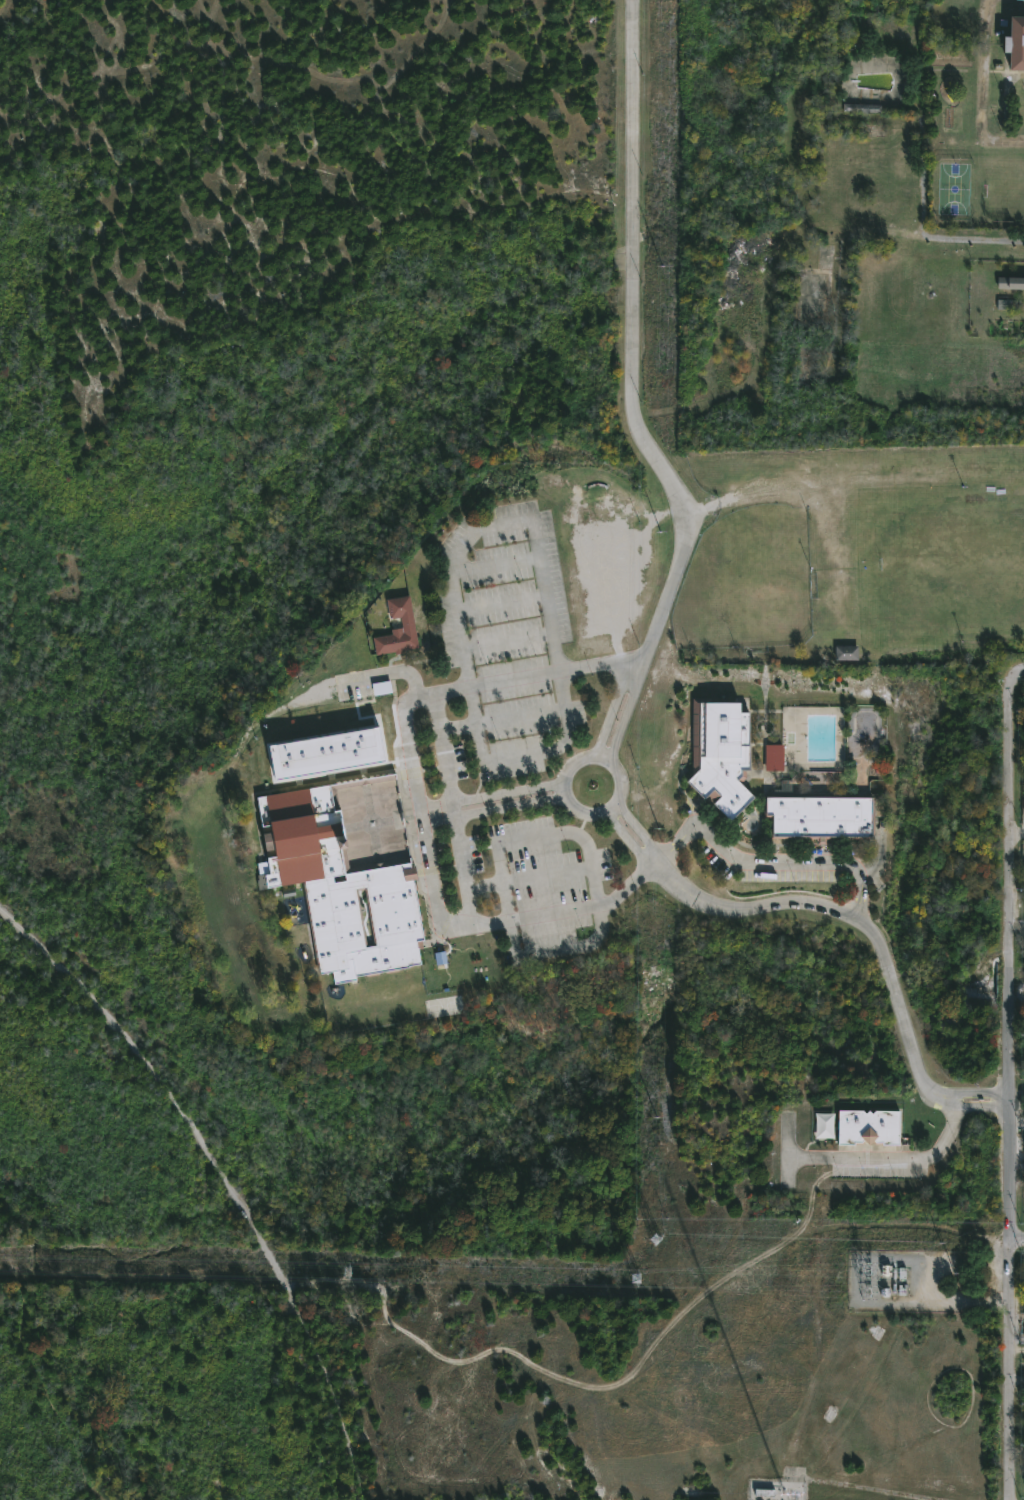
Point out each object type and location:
building: (1014, 41)
building: (861, 109)
building: (1010, 282)
road: (630, 352)
road: (808, 492)
building: (397, 629)
building: (846, 653)
road: (393, 669)
road: (609, 715)
road: (521, 716)
road: (623, 721)
building: (719, 753)
road: (448, 800)
road: (450, 809)
road: (577, 809)
road: (436, 812)
building: (820, 815)
road: (423, 823)
road: (638, 829)
road: (518, 839)
road: (626, 840)
road: (672, 848)
road: (772, 863)
building: (345, 868)
road: (546, 876)
road: (860, 901)
road: (844, 915)
road: (1012, 1084)
road: (973, 1090)
road: (971, 1105)
building: (824, 1125)
building: (867, 1126)
road: (899, 1157)
parking lot: (879, 1172)
railway: (224, 1180)
power tower: (656, 1241)
road: (1018, 1244)
power tower: (867, 1270)
power tower: (348, 1273)
power tower: (636, 1280)
power substation: (907, 1282)
power tower: (869, 1290)
building: (1022, 1477)
building: (794, 1493)
building: (765, 1494)

